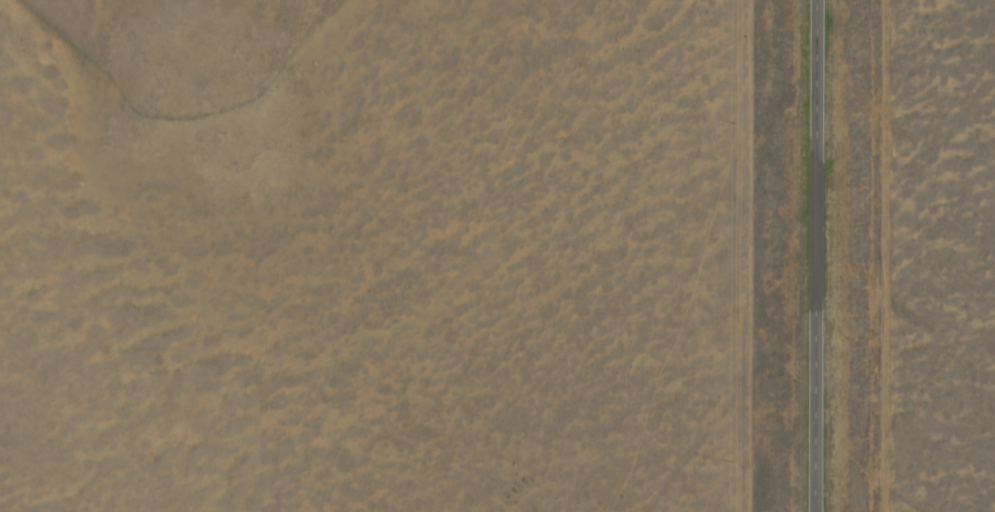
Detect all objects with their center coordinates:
road: (814, 256)

